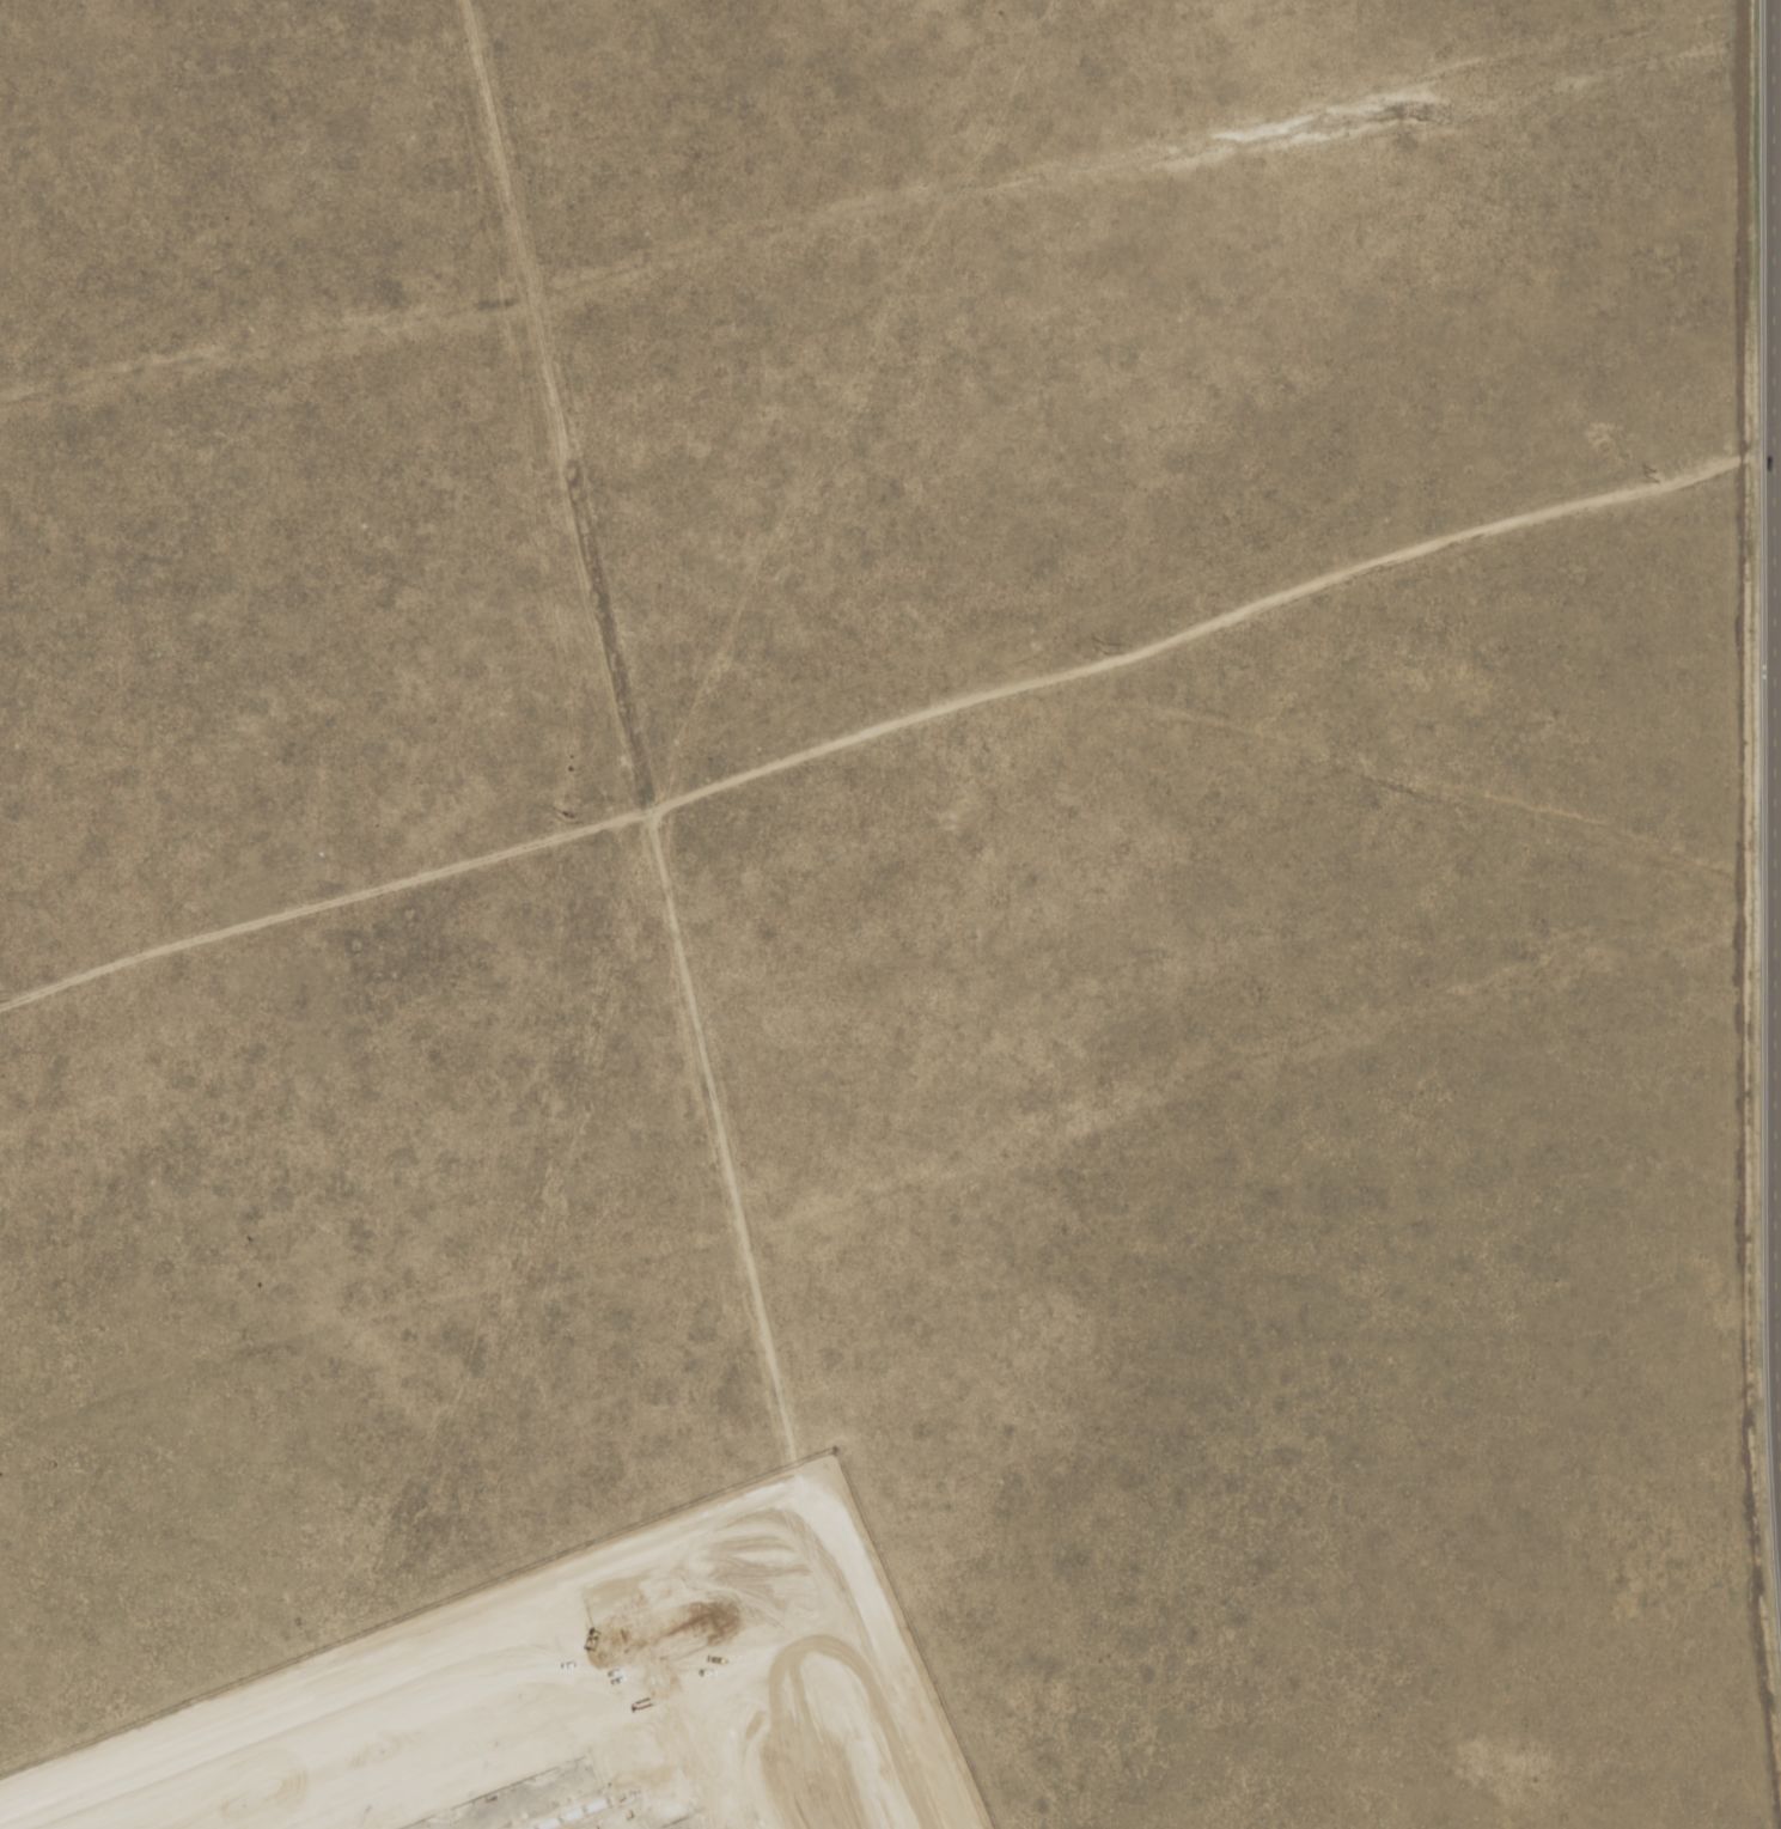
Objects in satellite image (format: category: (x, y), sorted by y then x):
power tower: (1657, 476)
road: (806, 612)
power tower: (1106, 648)
road: (1762, 813)
power tower: (563, 818)
road: (392, 925)
road: (370, 999)
road: (398, 1038)
road: (416, 1085)
road: (435, 1132)
road: (470, 1220)
building: (126, 1258)
road: (397, 1367)
road: (781, 1581)
building: (610, 1593)
storage tank: (610, 1593)
road: (325, 1611)
road: (767, 1626)
parking lot: (318, 1679)
road: (391, 1744)
road: (922, 1768)
building: (622, 1816)

